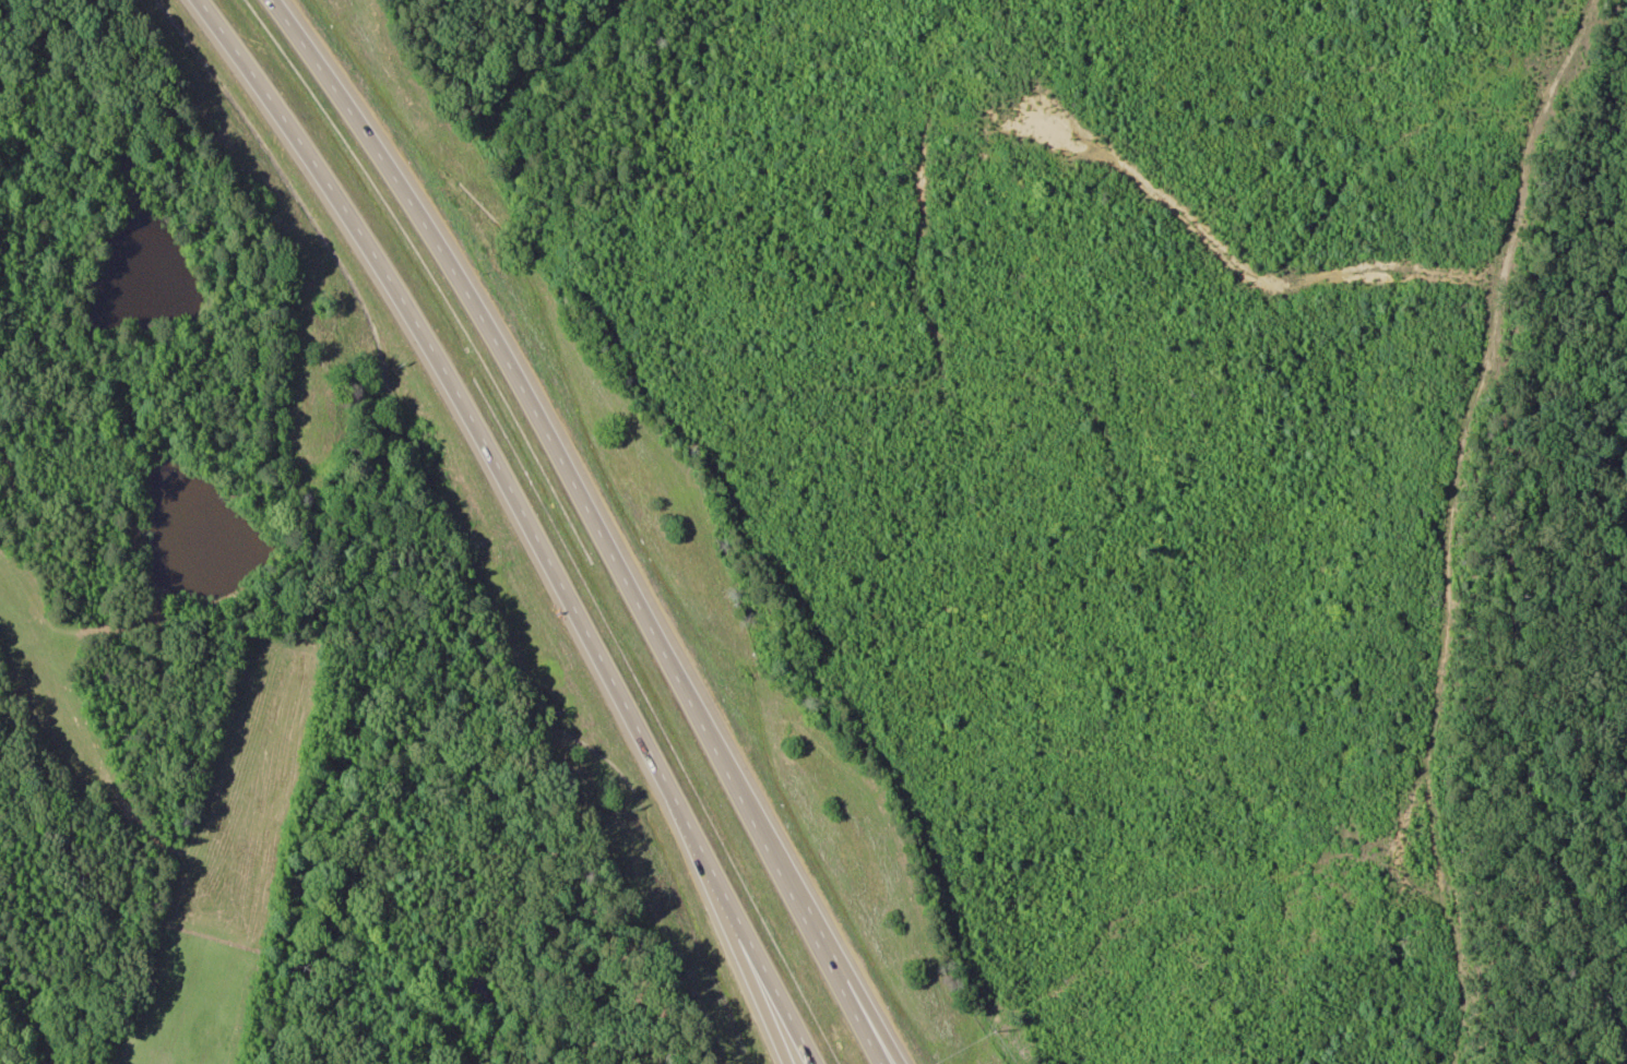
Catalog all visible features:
road: (547, 516)
road: (606, 516)
road: (789, 1031)

